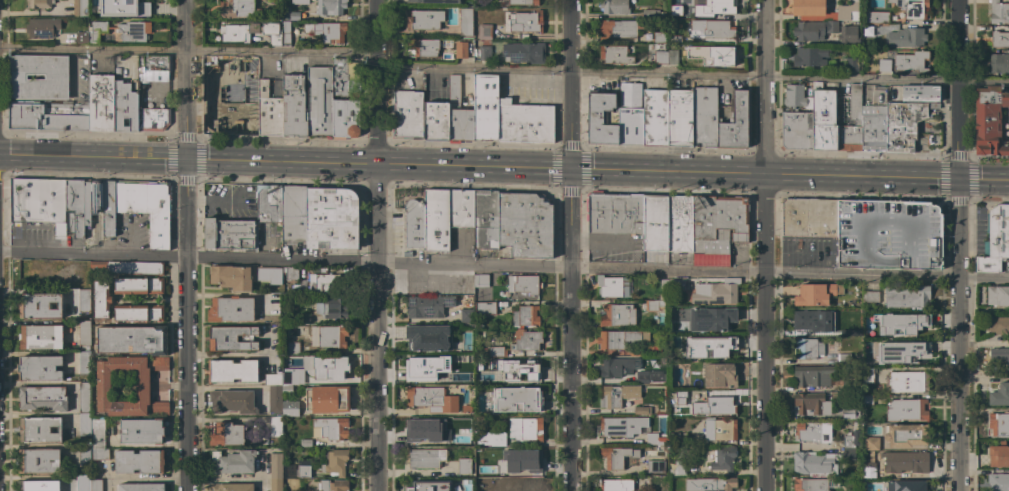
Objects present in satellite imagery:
building: (116, 1)
building: (299, 2)
building: (433, 2)
building: (518, 2)
building: (40, 3)
building: (135, 4)
building: (614, 6)
building: (719, 6)
building: (330, 7)
building: (80, 8)
building: (236, 8)
building: (910, 8)
building: (825, 10)
building: (103, 12)
building: (999, 12)
building: (652, 13)
building: (290, 14)
building: (675, 15)
building: (877, 17)
building: (423, 20)
building: (465, 21)
building: (523, 21)
building: (42, 27)
building: (622, 27)
building: (713, 28)
building: (485, 30)
building: (867, 30)
building: (97, 31)
building: (133, 31)
building: (327, 31)
building: (808, 31)
building: (234, 33)
building: (286, 33)
building: (81, 37)
building: (658, 37)
building: (906, 37)
building: (675, 39)
building: (999, 39)
building: (275, 40)
building: (830, 42)
building: (423, 47)
building: (461, 50)
building: (484, 52)
building: (523, 52)
building: (615, 54)
building: (712, 54)
building: (810, 56)
building: (660, 57)
building: (672, 57)
building: (911, 61)
building: (999, 63)
building: (153, 64)
building: (851, 64)
building: (884, 65)
road: (502, 71)
building: (56, 77)
building: (341, 77)
road: (184, 78)
road: (375, 82)
building: (601, 82)
road: (569, 85)
road: (763, 87)
road: (957, 90)
building: (918, 93)
building: (889, 94)
building: (319, 101)
building: (101, 102)
building: (126, 106)
building: (933, 106)
building: (294, 107)
building: (485, 107)
building: (269, 112)
building: (458, 113)
building: (704, 113)
building: (854, 113)
building: (630, 114)
building: (49, 115)
building: (408, 115)
building: (654, 117)
building: (678, 117)
building: (153, 118)
building: (345, 118)
building: (602, 118)
building: (797, 118)
building: (824, 118)
building: (436, 121)
building: (990, 121)
building: (524, 122)
building: (735, 123)
building: (903, 124)
building: (248, 127)
building: (872, 127)
road: (92, 155)
traffic signals: (185, 158)
road: (280, 162)
road: (424, 167)
road: (521, 170)
traffic signals: (570, 171)
road: (666, 173)
road: (860, 178)
traffic signals: (958, 181)
road: (983, 181)
building: (91, 200)
building: (40, 203)
building: (268, 203)
building: (75, 207)
building: (146, 207)
building: (108, 208)
building: (460, 208)
building: (293, 213)
building: (615, 213)
building: (809, 217)
building: (331, 218)
building: (485, 219)
building: (436, 220)
building: (414, 223)
building: (655, 223)
building: (679, 223)
building: (718, 223)
building: (525, 224)
road: (957, 229)
building: (229, 234)
building: (888, 235)
building: (995, 238)
road: (478, 265)
building: (126, 268)
building: (269, 275)
building: (231, 277)
road: (983, 278)
building: (315, 280)
building: (480, 280)
building: (523, 284)
building: (676, 284)
building: (155, 285)
building: (130, 286)
building: (613, 286)
building: (664, 286)
building: (713, 292)
building: (815, 294)
building: (870, 296)
building: (906, 296)
building: (997, 296)
building: (663, 297)
building: (100, 299)
building: (83, 301)
building: (274, 304)
building: (656, 304)
building: (39, 306)
building: (427, 306)
building: (334, 308)
building: (484, 308)
building: (230, 309)
building: (130, 313)
building: (155, 313)
building: (466, 315)
building: (617, 315)
building: (525, 316)
building: (710, 318)
building: (303, 319)
building: (808, 320)
road: (185, 324)
building: (900, 324)
building: (998, 325)
road: (376, 328)
road: (571, 330)
building: (843, 330)
road: (762, 332)
building: (84, 333)
building: (328, 336)
building: (40, 337)
building: (427, 337)
building: (231, 338)
building: (132, 339)
building: (619, 339)
building: (526, 340)
building: (684, 340)
building: (292, 348)
building: (808, 348)
building: (87, 349)
building: (644, 350)
building: (720, 350)
building: (496, 351)
building: (901, 352)
building: (999, 356)
building: (844, 359)
building: (83, 362)
building: (158, 363)
building: (417, 366)
building: (618, 366)
building: (38, 367)
building: (327, 367)
building: (529, 368)
building: (232, 371)
building: (718, 375)
building: (867, 375)
building: (289, 376)
building: (458, 377)
building: (483, 377)
building: (649, 377)
building: (820, 377)
building: (272, 379)
building: (907, 382)
road: (956, 384)
building: (103, 386)
building: (286, 389)
building: (680, 394)
building: (999, 394)
building: (616, 395)
building: (84, 397)
building: (42, 398)
building: (274, 398)
building: (430, 398)
building: (327, 399)
building: (516, 399)
building: (867, 400)
building: (232, 401)
building: (811, 404)
building: (721, 405)
building: (289, 408)
building: (465, 408)
building: (905, 409)
building: (642, 410)
building: (850, 413)
building: (479, 418)
building: (84, 424)
building: (997, 424)
building: (275, 426)
building: (621, 426)
building: (418, 427)
building: (330, 428)
building: (525, 429)
building: (719, 429)
building: (40, 430)
building: (141, 431)
building: (810, 432)
building: (97, 434)
building: (227, 434)
building: (459, 435)
building: (905, 435)
building: (490, 439)
building: (655, 439)
building: (677, 439)
building: (849, 441)
building: (305, 443)
building: (871, 443)
building: (999, 452)
building: (99, 454)
building: (848, 454)
building: (84, 455)
building: (616, 456)
building: (424, 457)
building: (529, 460)
building: (723, 460)
building: (39, 461)
building: (139, 461)
building: (334, 461)
building: (232, 462)
building: (905, 462)
building: (811, 463)
building: (275, 465)
building: (463, 466)
building: (655, 466)
building: (678, 468)
building: (297, 469)
building: (868, 470)
building: (482, 471)
building: (858, 479)
building: (998, 481)
building: (81, 483)
building: (276, 484)
building: (531, 484)
building: (709, 484)
building: (814, 484)
building: (38, 485)
building: (96, 485)
building: (333, 485)
building: (418, 485)
building: (505, 485)
building: (616, 485)
building: (912, 485)
building: (141, 487)
building: (231, 487)

